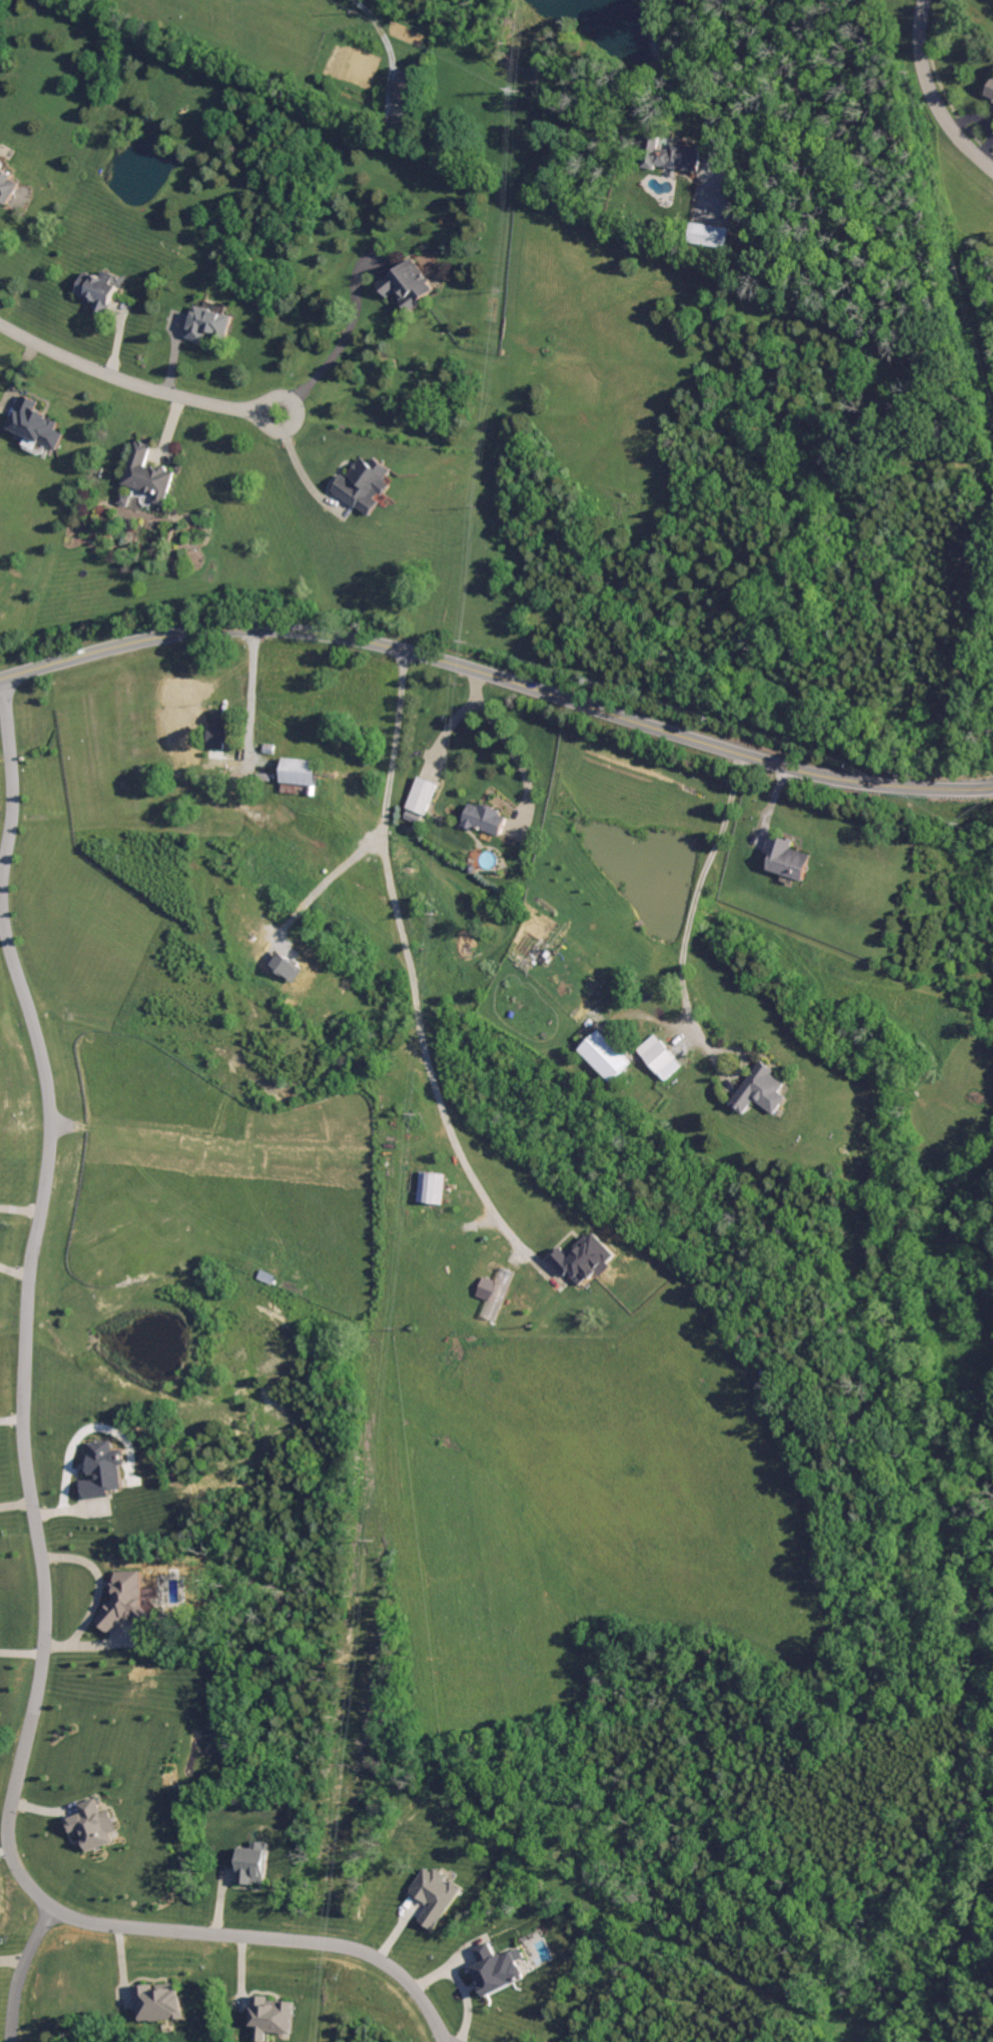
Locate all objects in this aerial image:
road: (382, 35)
road: (681, 73)
building: (407, 86)
building: (990, 91)
road: (933, 93)
building: (672, 154)
building: (0, 159)
building: (8, 184)
building: (711, 235)
building: (411, 285)
building: (101, 289)
building: (210, 323)
road: (338, 342)
road: (133, 381)
building: (36, 423)
road: (297, 465)
building: (149, 474)
building: (365, 484)
road: (498, 677)
road: (251, 696)
road: (445, 724)
building: (221, 736)
road: (506, 742)
building: (304, 772)
road: (13, 774)
building: (245, 785)
building: (423, 795)
building: (413, 817)
building: (487, 819)
building: (789, 858)
road: (326, 879)
road: (691, 913)
road: (407, 961)
building: (604, 1056)
building: (660, 1057)
building: (761, 1090)
building: (432, 1188)
road: (20, 1207)
building: (587, 1259)
road: (22, 1414)
building: (105, 1469)
building: (129, 1601)
building: (94, 1824)
building: (255, 1863)
building: (437, 1895)
road: (262, 1935)
road: (15, 1969)
building: (499, 1969)
building: (160, 2002)
building: (274, 2017)

